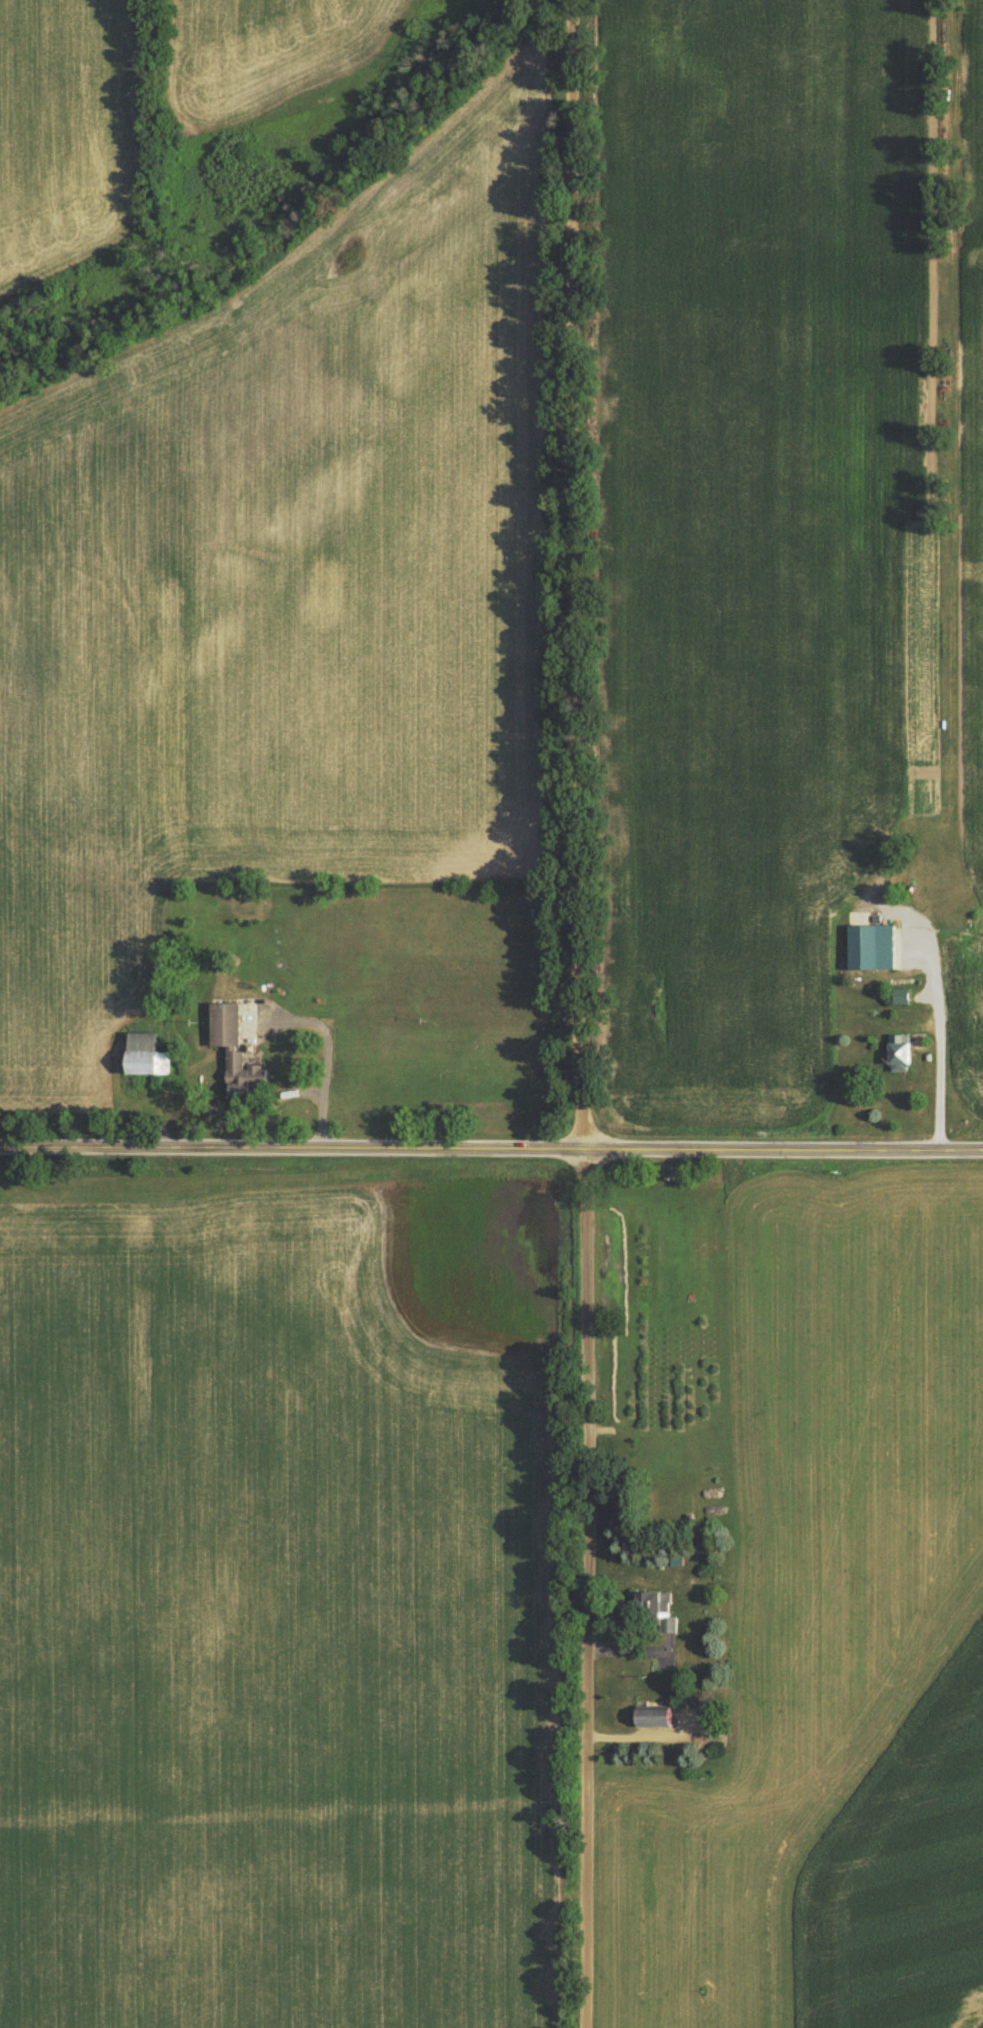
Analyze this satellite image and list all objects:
building: (871, 945)
building: (901, 994)
road: (586, 1014)
building: (230, 1036)
building: (899, 1051)
building: (145, 1053)
road: (491, 1156)
building: (656, 1605)
building: (653, 1717)

